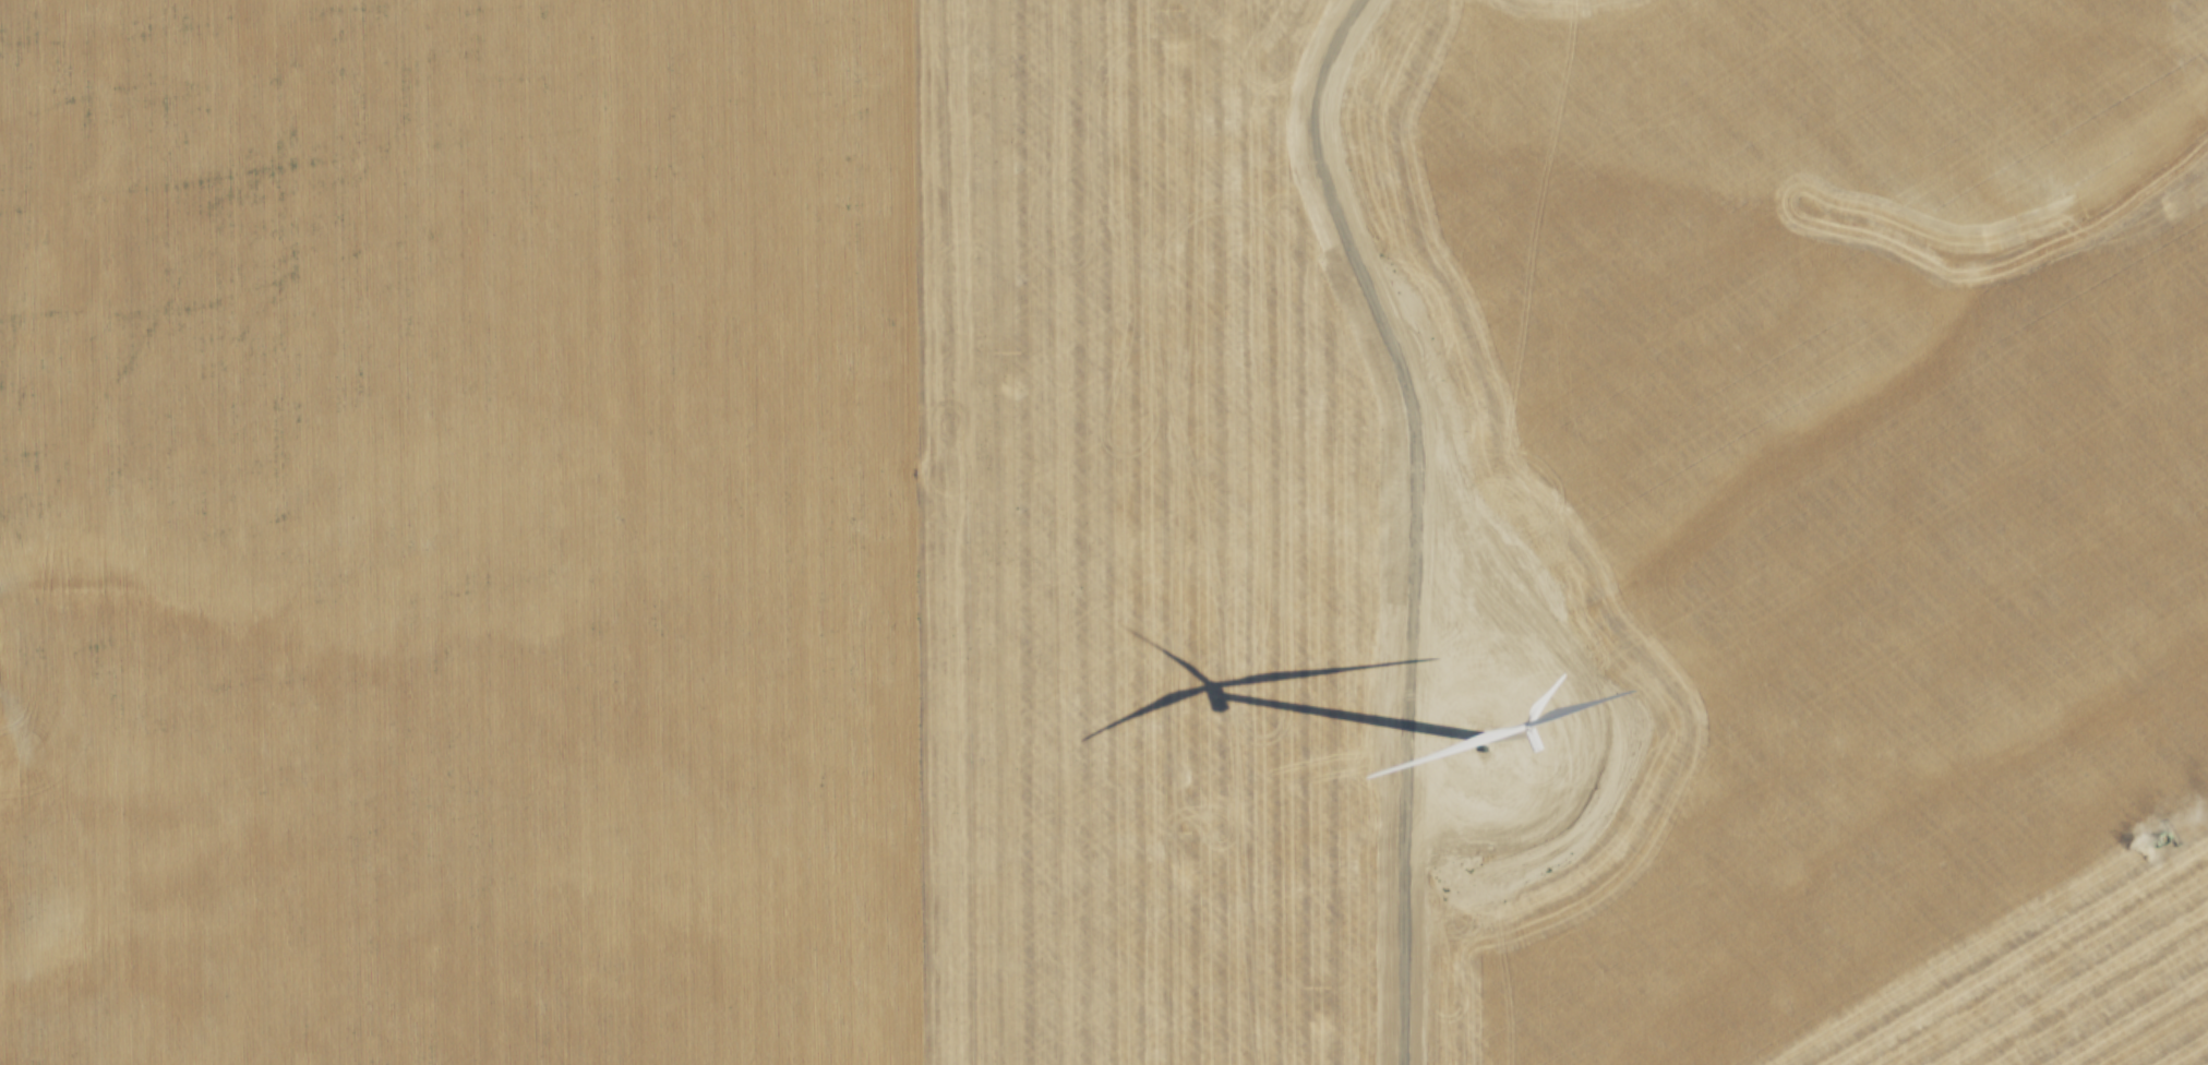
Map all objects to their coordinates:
wind turbine: (1487, 738)

